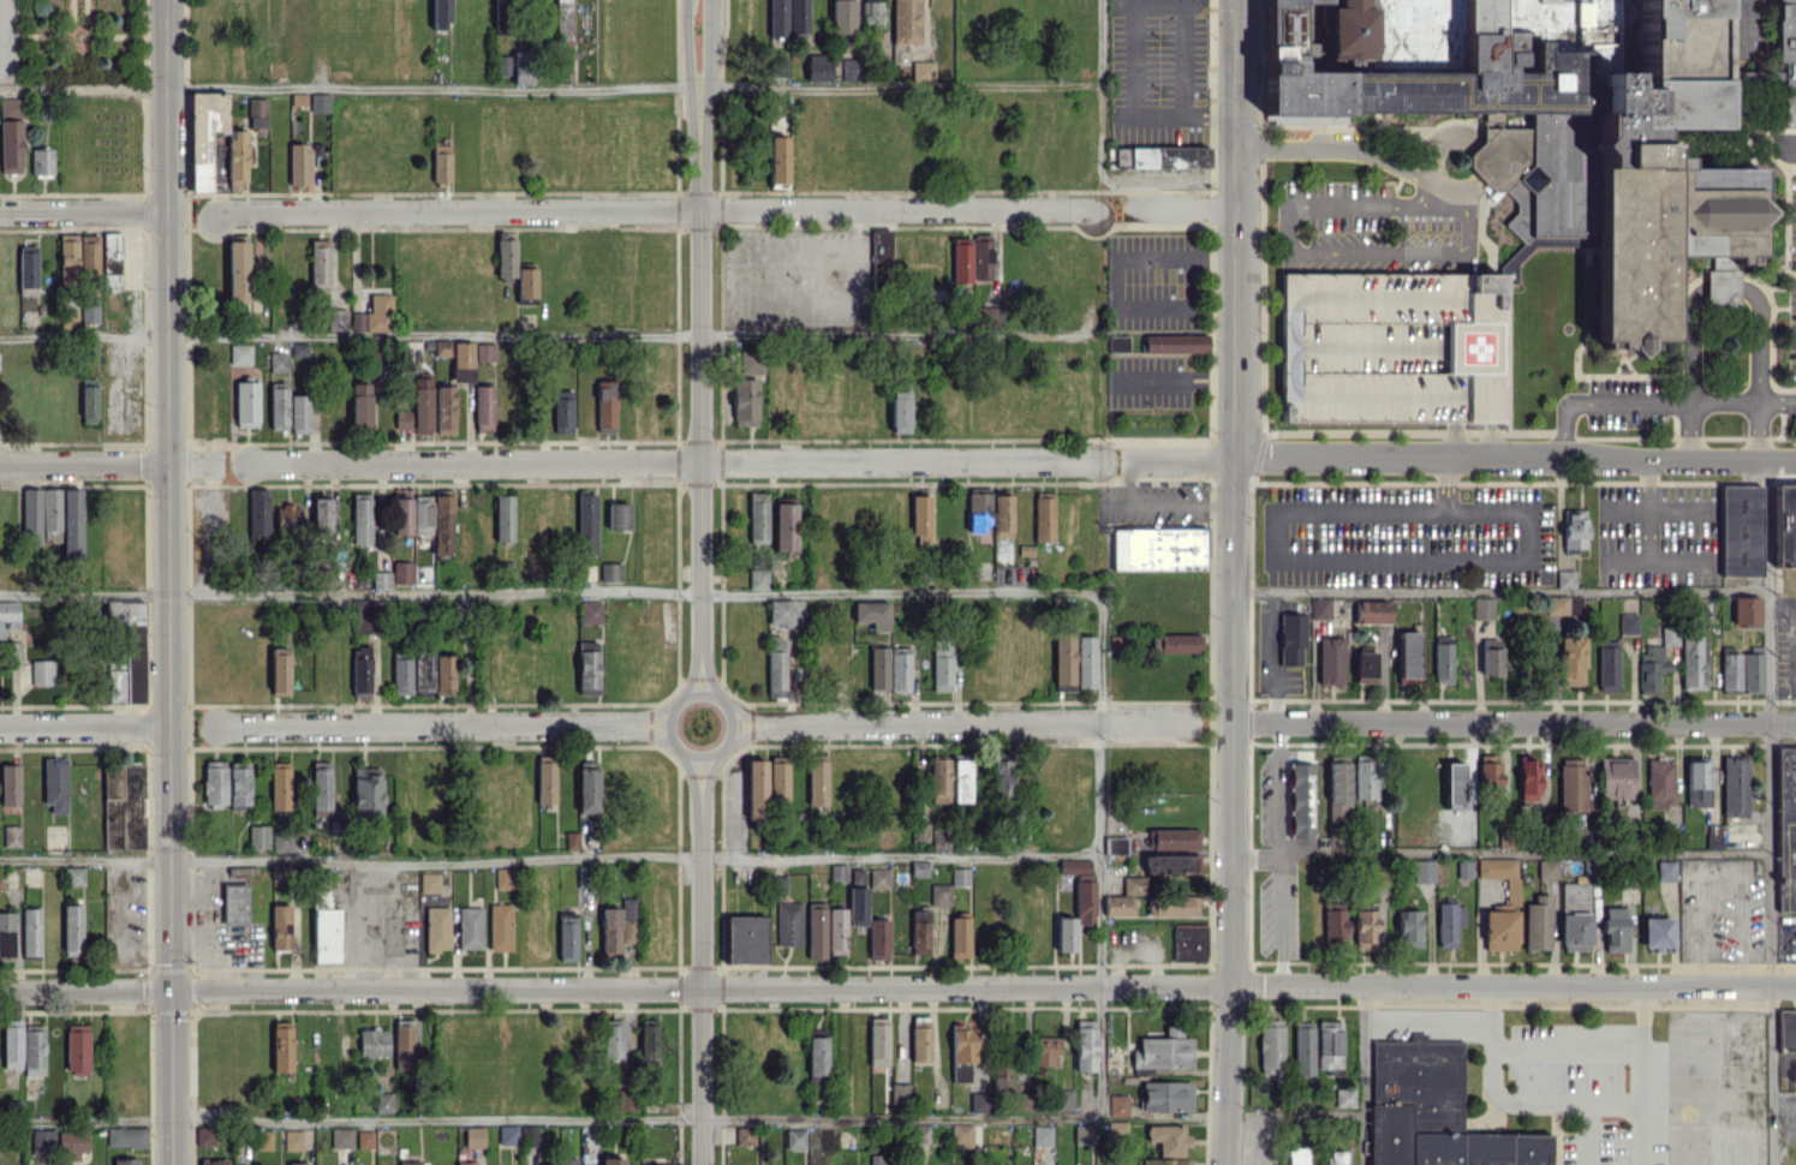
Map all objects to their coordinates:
building: (40, 7)
building: (871, 13)
building: (438, 14)
building: (798, 16)
building: (842, 16)
building: (503, 17)
building: (777, 17)
building: (905, 22)
road: (1746, 25)
parking lot: (1743, 26)
fountain: (79, 36)
park: (78, 40)
road: (685, 42)
road: (708, 42)
building: (1784, 64)
building: (514, 66)
building: (817, 68)
building: (851, 68)
building: (921, 71)
road: (549, 84)
road: (1100, 89)
building: (318, 102)
building: (256, 112)
building: (1546, 123)
building: (11, 135)
building: (1120, 156)
building: (1168, 156)
building: (777, 159)
building: (199, 161)
building: (41, 162)
building: (300, 162)
building: (441, 162)
road: (1418, 173)
road: (1176, 207)
road: (652, 208)
road: (82, 209)
parking lot: (1372, 227)
road: (1303, 251)
building: (506, 256)
building: (883, 257)
building: (980, 257)
building: (78, 258)
building: (960, 259)
building: (111, 261)
parking lot: (1790, 261)
building: (318, 265)
building: (28, 267)
building: (237, 270)
building: (525, 283)
road: (1725, 285)
building: (89, 313)
building: (374, 315)
building: (985, 315)
building: (335, 318)
road: (1081, 329)
road: (535, 333)
building: (1174, 342)
building: (1117, 343)
building: (1398, 346)
parking lot: (1398, 346)
building: (441, 347)
helipad: (1480, 347)
building: (485, 352)
building: (239, 353)
building: (278, 362)
building: (461, 362)
road: (697, 371)
building: (88, 400)
building: (245, 404)
building: (359, 404)
parking lot: (1628, 404)
road: (1652, 404)
building: (278, 406)
building: (604, 406)
building: (483, 407)
building: (417, 408)
building: (444, 408)
building: (562, 411)
building: (899, 411)
building: (298, 413)
road: (1488, 441)
road: (1454, 442)
road: (1177, 459)
road: (1512, 459)
road: (83, 461)
road: (191, 461)
road: (669, 461)
road: (1126, 476)
road: (1230, 491)
building: (400, 512)
building: (422, 514)
building: (31, 515)
building: (257, 515)
building: (321, 515)
building: (617, 515)
building: (757, 516)
building: (287, 518)
building: (503, 518)
building: (920, 518)
building: (1043, 518)
building: (360, 519)
building: (991, 519)
building: (586, 522)
road: (1766, 522)
building: (442, 524)
building: (783, 524)
building: (1784, 525)
building: (1740, 528)
building: (1574, 530)
building: (1157, 548)
road: (1327, 561)
building: (610, 570)
building: (394, 575)
building: (757, 578)
building: (1564, 578)
road: (167, 581)
road: (1498, 587)
road: (549, 593)
building: (1563, 605)
building: (1319, 607)
building: (1482, 608)
building: (1744, 610)
building: (590, 611)
building: (784, 611)
building: (1371, 611)
building: (871, 613)
building: (364, 615)
building: (7, 616)
building: (1628, 622)
building: (1669, 635)
building: (1291, 639)
building: (1175, 643)
building: (127, 652)
building: (1490, 656)
building: (1408, 657)
building: (1330, 659)
building: (1443, 659)
building: (1063, 661)
building: (1085, 661)
building: (1570, 661)
building: (1693, 662)
building: (942, 665)
building: (1606, 665)
building: (586, 667)
building: (1364, 667)
building: (1651, 668)
building: (776, 669)
building: (877, 669)
building: (279, 670)
building: (360, 670)
building: (1740, 670)
building: (42, 671)
building: (422, 673)
building: (442, 674)
building: (401, 675)
road: (691, 676)
road: (708, 677)
road: (727, 706)
road: (646, 713)
road: (751, 713)
road: (983, 722)
road: (1512, 722)
road: (417, 724)
road: (84, 727)
road: (751, 730)
road: (649, 733)
building: (1488, 771)
road: (708, 772)
road: (691, 773)
building: (1001, 775)
building: (1365, 776)
building: (778, 777)
building: (1615, 777)
building: (1528, 778)
building: (545, 779)
building: (817, 779)
building: (949, 779)
building: (1660, 782)
building: (54, 783)
building: (214, 783)
building: (1571, 783)
building: (1697, 783)
building: (10, 784)
building: (280, 785)
building: (1452, 785)
building: (1734, 785)
building: (321, 787)
building: (587, 787)
building: (754, 789)
building: (1337, 789)
building: (366, 793)
building: (1300, 800)
building: (124, 806)
building: (1785, 825)
building: (920, 832)
building: (11, 835)
building: (258, 836)
building: (1335, 836)
building: (1712, 836)
building: (1173, 838)
building: (281, 840)
building: (569, 840)
building: (938, 840)
building: (1114, 844)
road: (1099, 852)
road: (1277, 853)
road: (1499, 854)
road: (550, 856)
building: (1170, 864)
building: (1546, 868)
building: (1422, 871)
building: (1665, 871)
building: (837, 872)
building: (1500, 873)
building: (74, 876)
building: (959, 876)
road: (1768, 876)
building: (583, 877)
building: (506, 878)
building: (878, 878)
building: (429, 882)
building: (939, 894)
building: (857, 896)
building: (1124, 897)
building: (1075, 902)
building: (234, 903)
building: (1171, 904)
building: (1574, 915)
building: (631, 920)
building: (788, 922)
building: (1448, 922)
building: (1537, 922)
building: (324, 925)
building: (1333, 925)
building: (500, 926)
building: (469, 927)
building: (1408, 927)
building: (436, 928)
building: (1615, 928)
building: (72, 930)
building: (816, 930)
building: (919, 930)
building: (1365, 930)
building: (1499, 930)
building: (609, 931)
building: (836, 931)
building: (6, 933)
building: (30, 933)
building: (1655, 933)
building: (567, 936)
building: (959, 937)
building: (745, 938)
building: (878, 939)
building: (1188, 942)
road: (698, 980)
road: (1512, 982)
road: (699, 985)
road: (84, 988)
traffic signals: (169, 988)
building: (1786, 1029)
road: (1491, 1034)
building: (610, 1040)
building: (649, 1040)
building: (878, 1040)
building: (919, 1041)
building: (372, 1042)
road: (1565, 1042)
building: (11, 1044)
building: (1270, 1044)
road: (1640, 1044)
building: (1085, 1045)
building: (281, 1046)
building: (402, 1046)
building: (77, 1048)
building: (1302, 1048)
building: (32, 1050)
building: (1045, 1050)
building: (962, 1051)
building: (1163, 1051)
road: (1790, 1064)
road: (1227, 1074)
road: (1364, 1074)
building: (1001, 1077)
building: (900, 1093)
building: (1165, 1095)
building: (1344, 1097)
building: (1062, 1098)
building: (627, 1100)
road: (1570, 1100)
building: (383, 1101)
building: (1022, 1101)
building: (980, 1103)
building: (1117, 1105)
building: (1434, 1111)
road: (1295, 1115)
road: (550, 1116)
building: (1116, 1130)
building: (1082, 1133)
road: (1587, 1133)
building: (961, 1134)
building: (204, 1135)
building: (517, 1135)
building: (745, 1135)
building: (1040, 1135)
building: (125, 1136)
building: (473, 1136)
building: (341, 1137)
building: (794, 1137)
building: (292, 1139)
building: (364, 1139)
building: (263, 1140)
building: (42, 1141)
road: (1640, 1142)
building: (72, 1143)
building: (1166, 1143)
building: (1294, 1155)
building: (1332, 1158)
building: (611, 1160)
building: (124, 1161)
building: (213, 1161)
building: (563, 1161)
building: (412, 1163)
building: (465, 1163)
building: (298, 1164)
building: (655, 1164)

